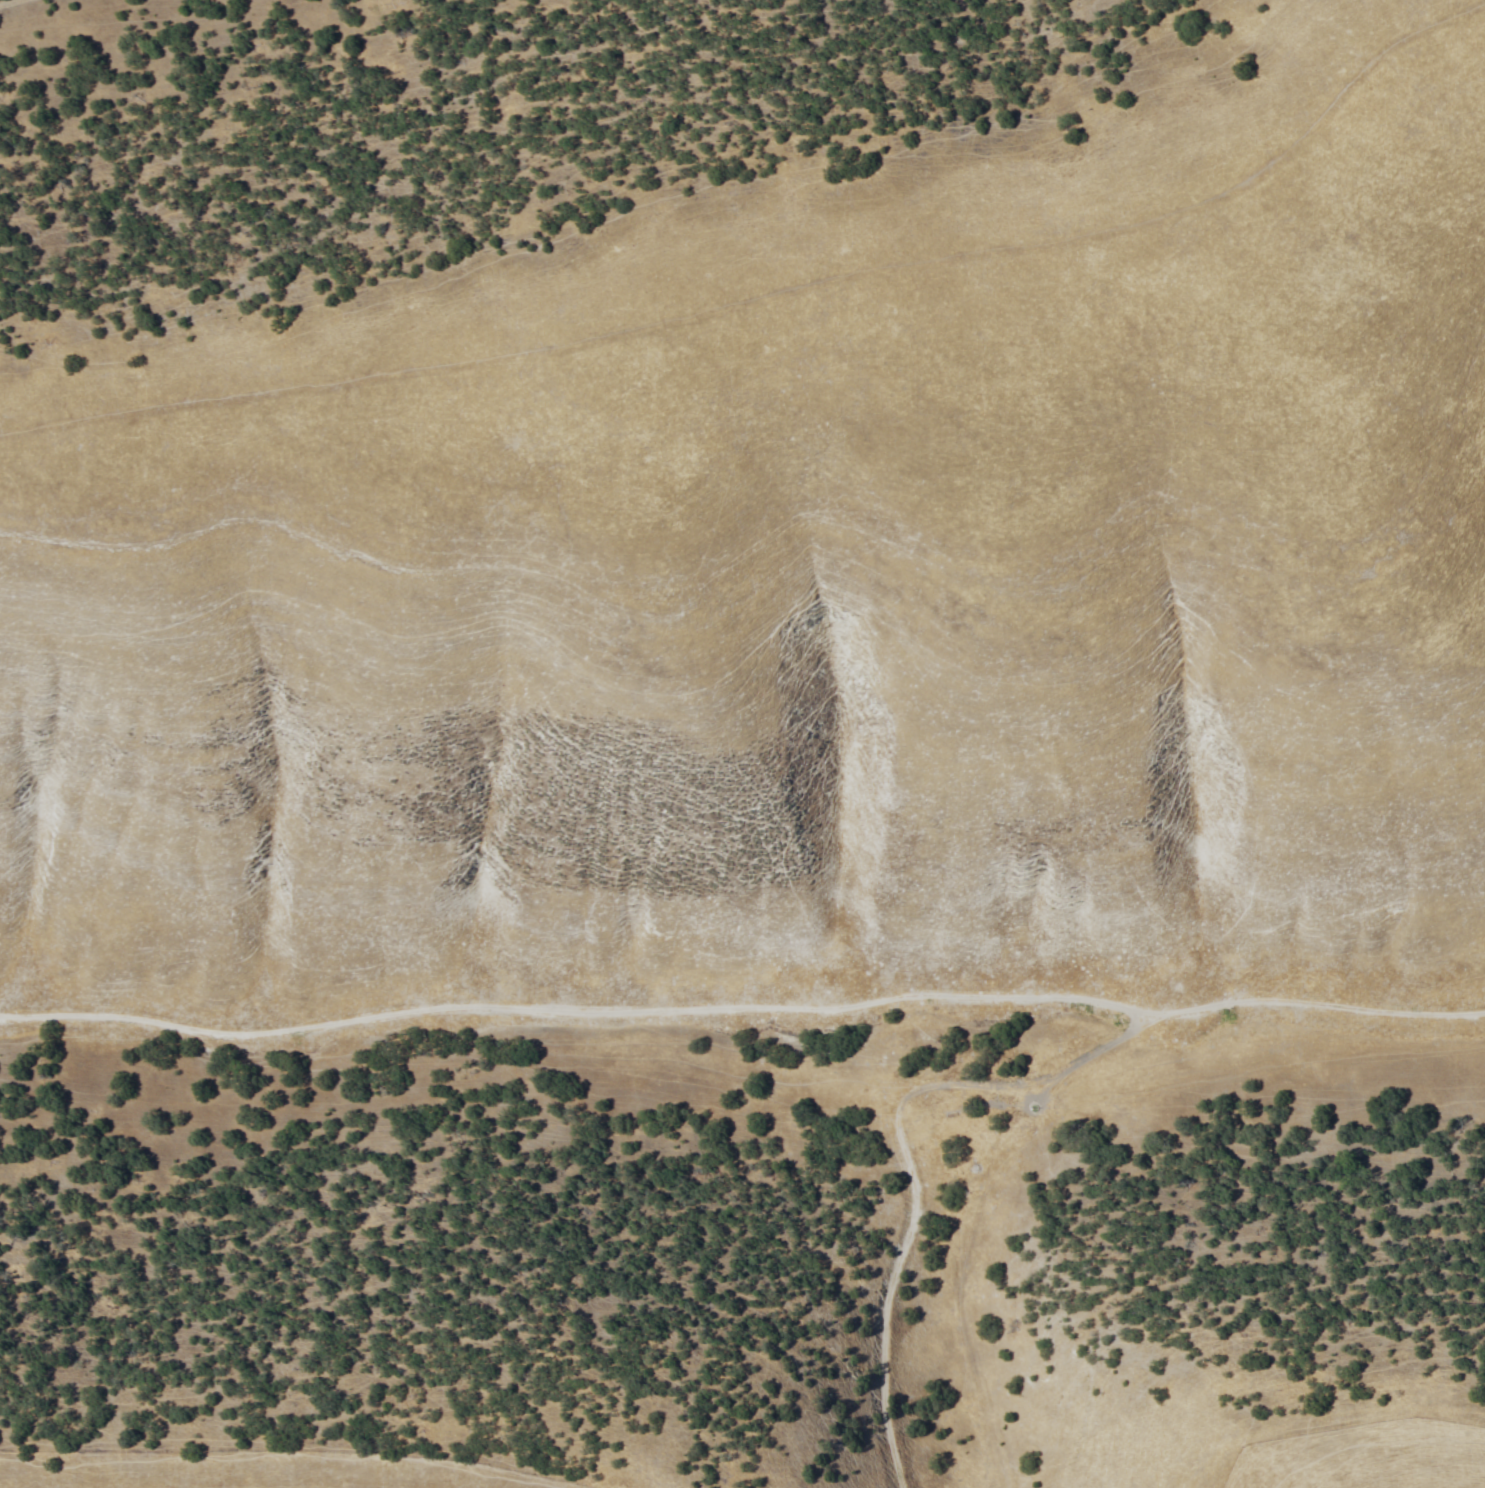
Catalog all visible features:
road: (170, 35)
road: (742, 1009)
road: (1346, 1438)

